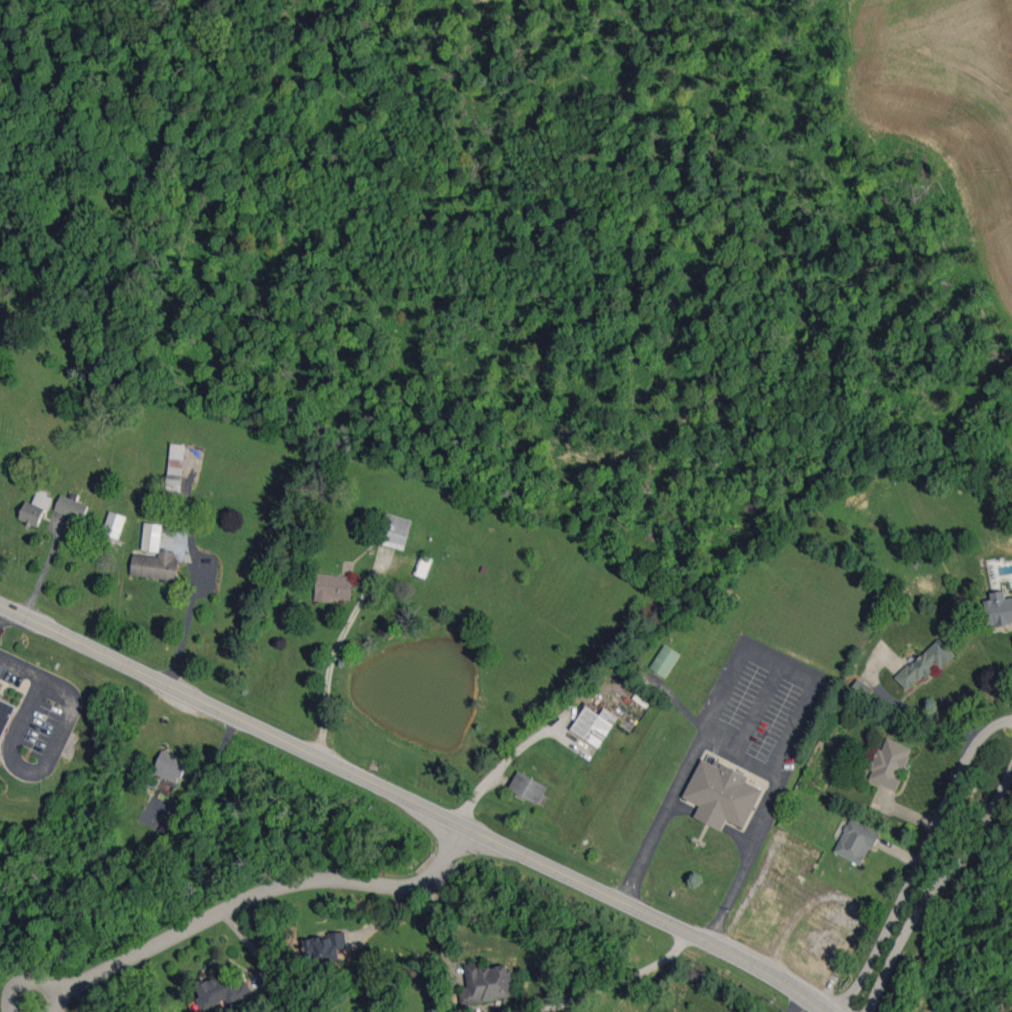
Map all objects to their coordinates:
building: (175, 467)
building: (71, 507)
building: (35, 509)
building: (114, 524)
building: (394, 531)
building: (152, 537)
building: (156, 565)
building: (423, 566)
road: (40, 569)
building: (333, 587)
building: (998, 609)
road: (184, 622)
building: (664, 660)
road: (780, 660)
building: (926, 663)
road: (22, 665)
building: (0, 685)
road: (62, 686)
road: (27, 713)
building: (5, 715)
building: (594, 725)
road: (732, 755)
road: (48, 759)
road: (501, 762)
building: (890, 763)
building: (170, 766)
building: (528, 787)
building: (722, 795)
road: (414, 804)
building: (856, 841)
road: (920, 860)
road: (936, 892)
road: (263, 894)
building: (325, 947)
road: (22, 953)
road: (32, 977)
road: (622, 980)
building: (487, 983)
building: (222, 989)
road: (797, 1004)

